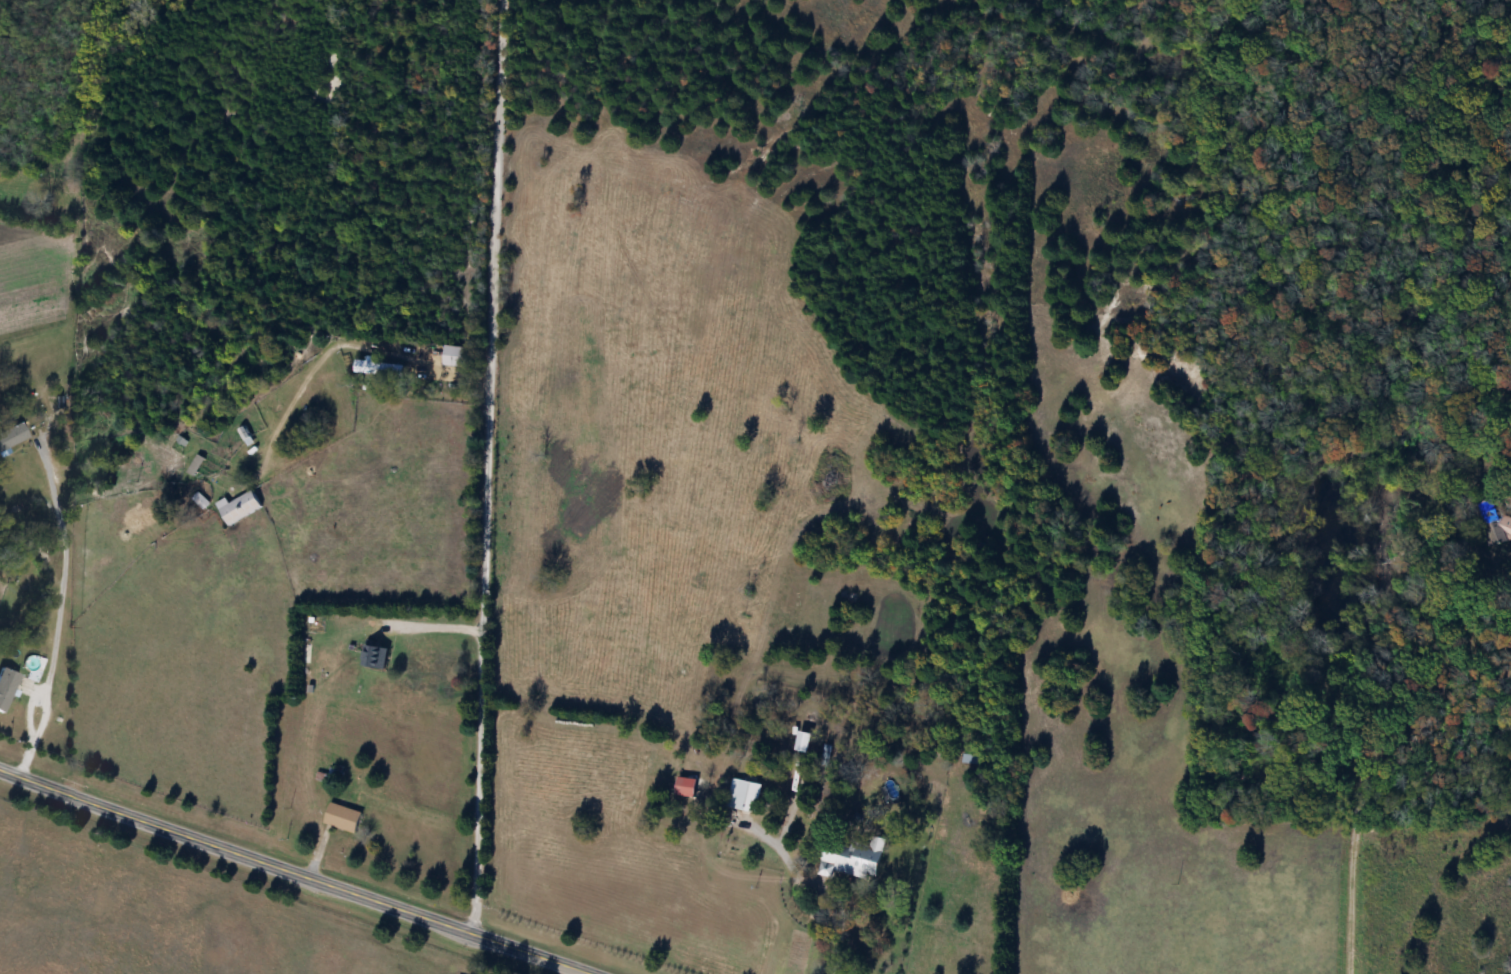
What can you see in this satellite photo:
building: (453, 356)
building: (379, 369)
building: (244, 434)
road: (483, 463)
building: (193, 464)
building: (238, 506)
building: (1486, 526)
road: (61, 607)
road: (430, 627)
building: (371, 656)
building: (12, 686)
building: (972, 758)
building: (681, 785)
building: (741, 794)
building: (340, 816)
building: (850, 858)
road: (304, 869)
road: (1352, 890)
road: (837, 913)

